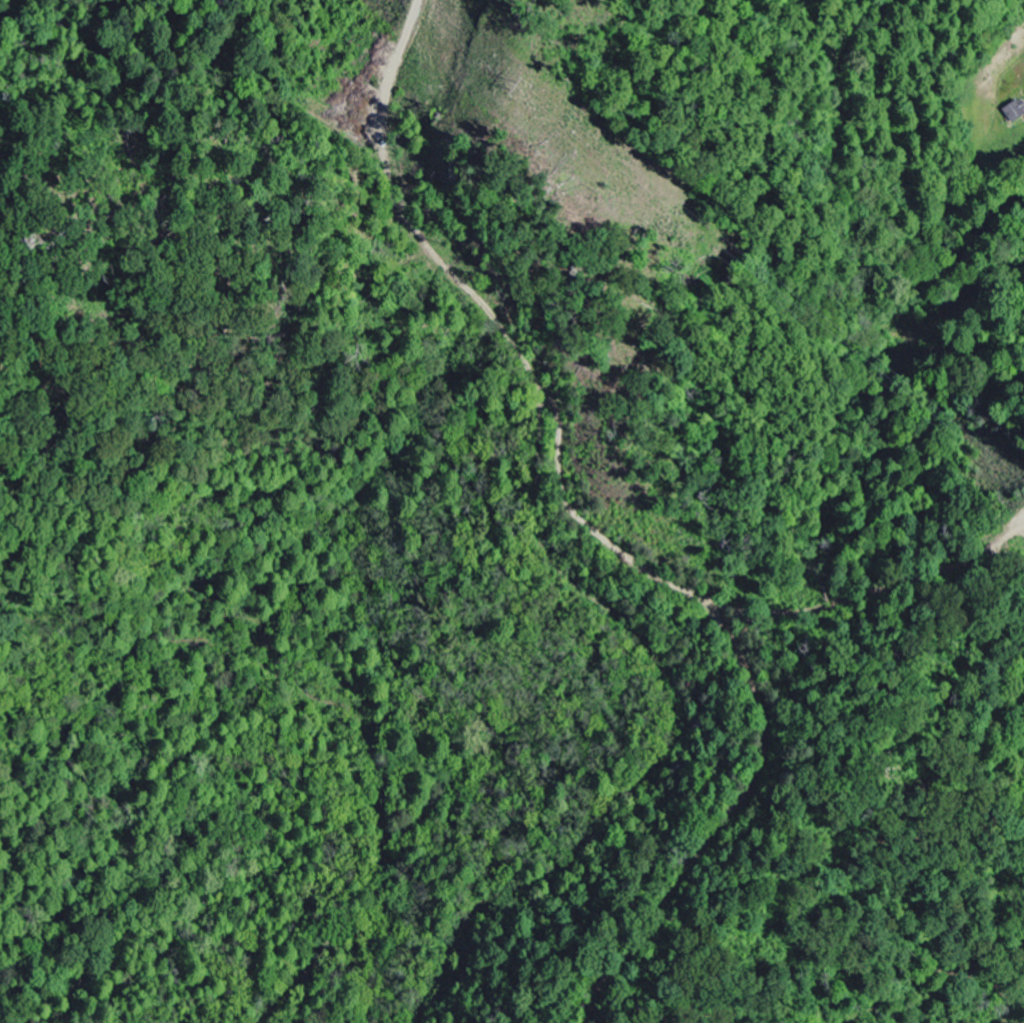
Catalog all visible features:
building: (1014, 113)

